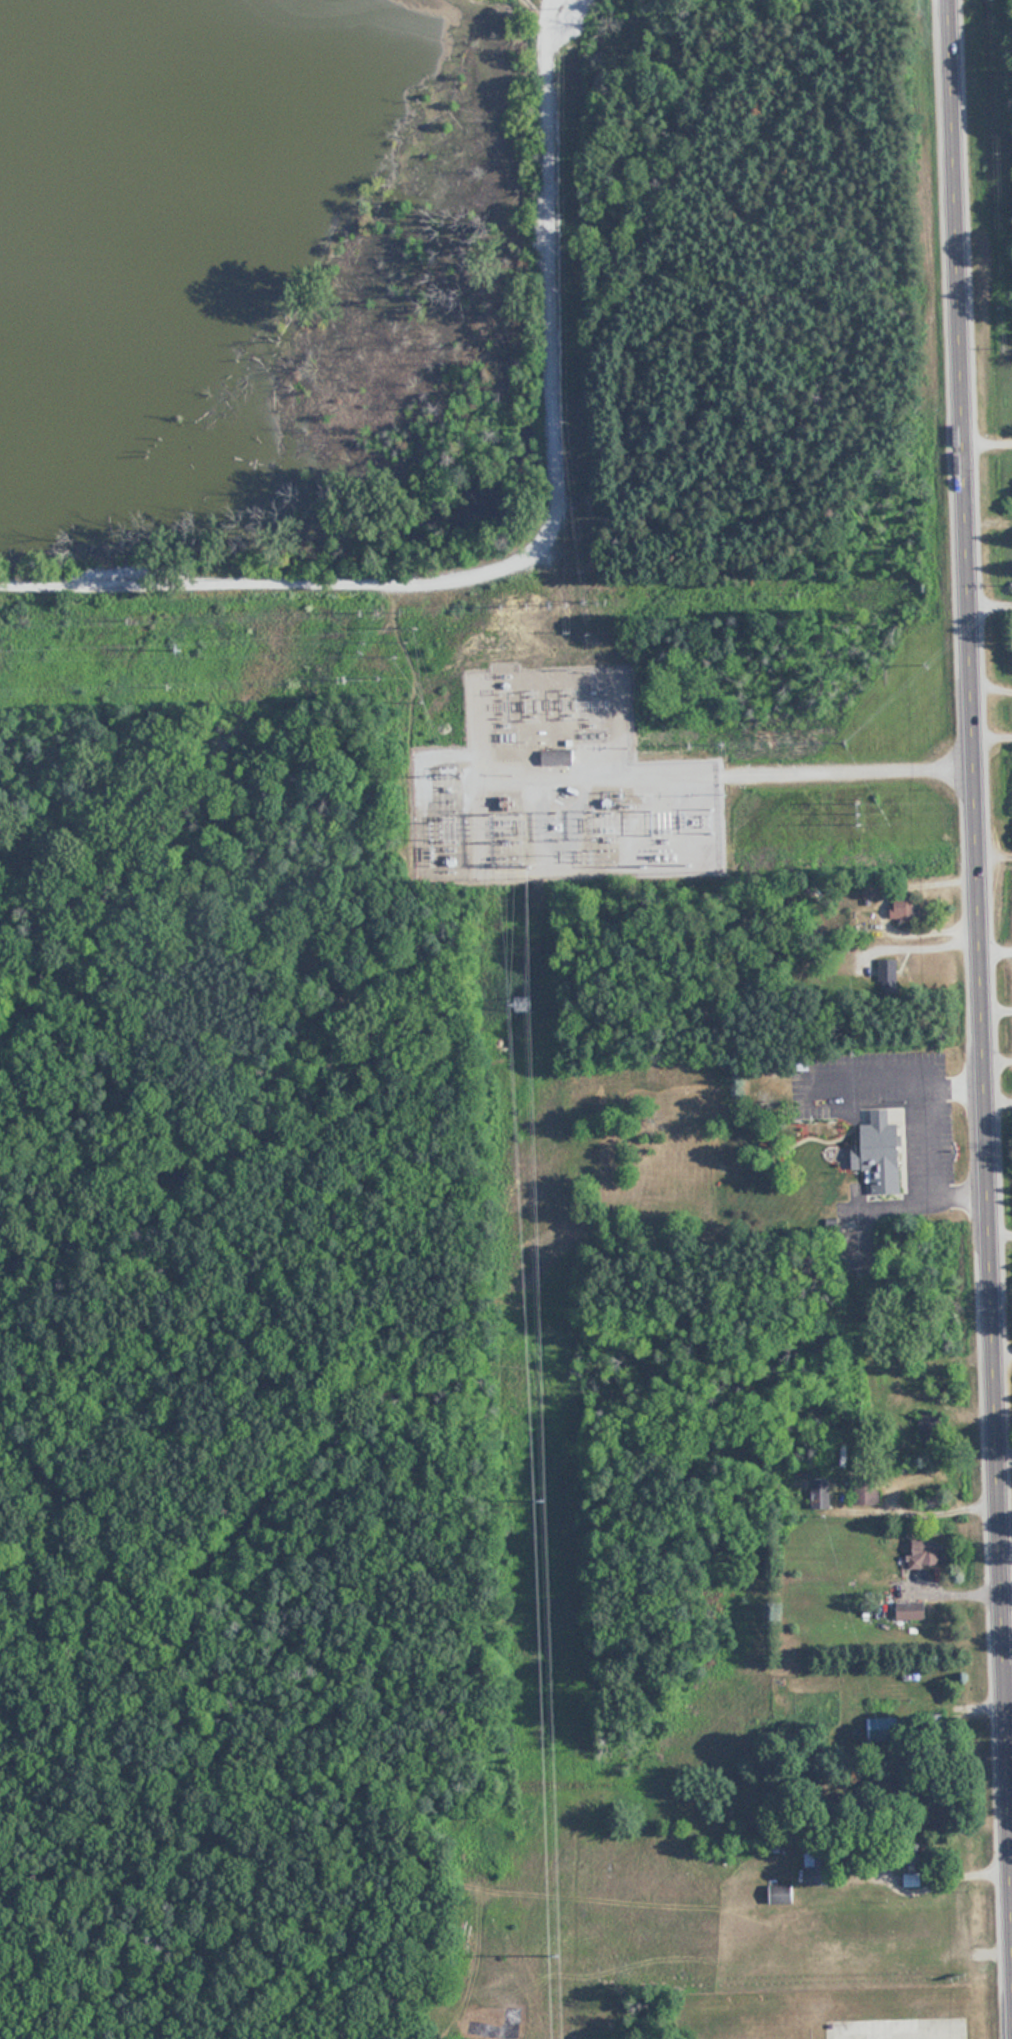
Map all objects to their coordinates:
park: (980, 149)
road: (985, 431)
power tower: (407, 641)
power tower: (175, 650)
power tower: (445, 727)
building: (557, 758)
road: (803, 773)
power substation: (542, 785)
power tower: (862, 816)
road: (974, 880)
building: (877, 890)
building: (906, 910)
road: (993, 946)
building: (888, 970)
power tower: (522, 1007)
building: (801, 1065)
building: (883, 1152)
building: (867, 1490)
building: (821, 1493)
power tower: (538, 1499)
building: (926, 1552)
building: (911, 1610)
road: (1011, 1693)
building: (818, 1868)
building: (912, 1879)
building: (782, 1893)
power tower: (555, 1954)

